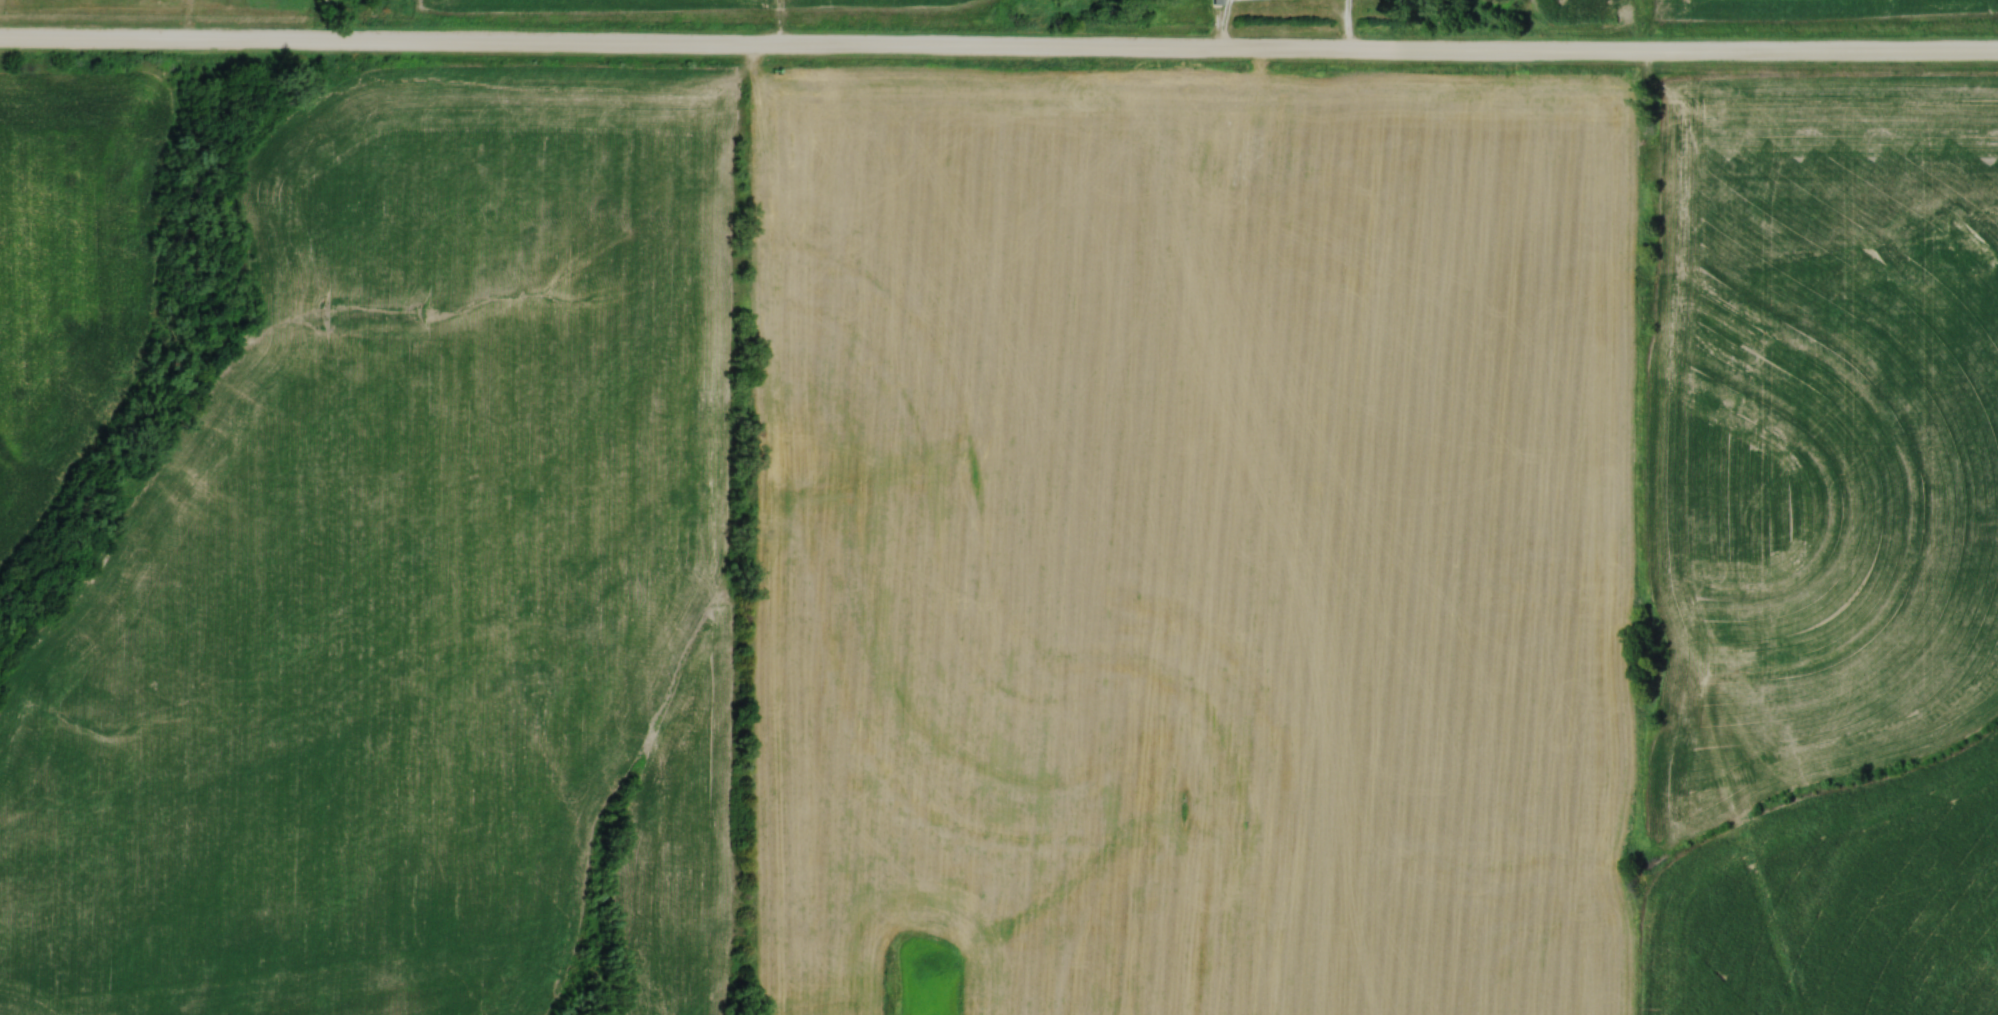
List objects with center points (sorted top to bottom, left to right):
building: (1216, 1)
road: (998, 45)

